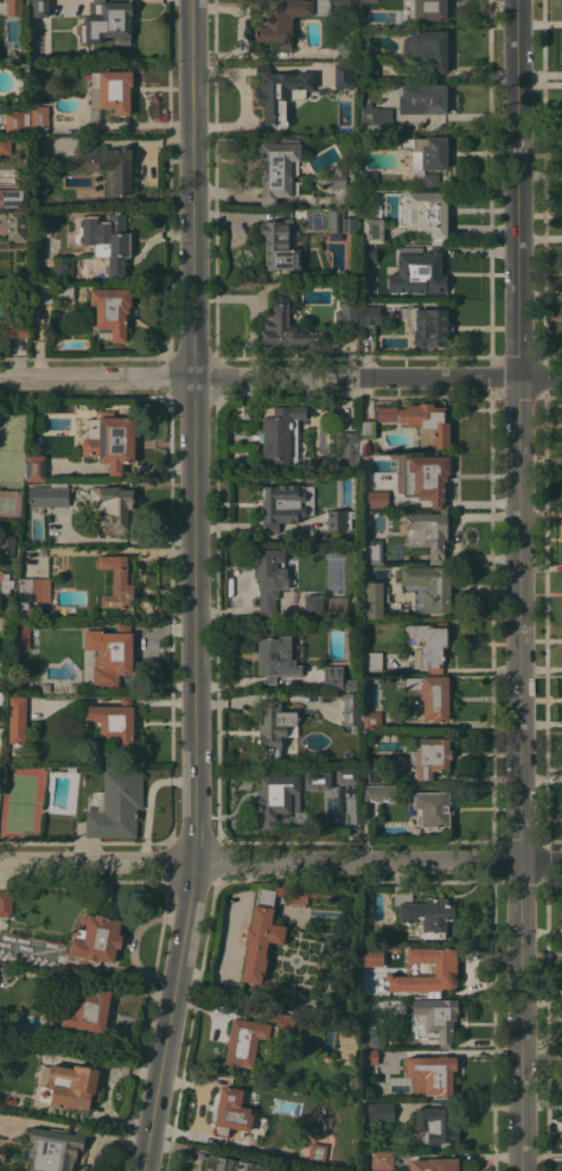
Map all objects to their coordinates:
building: (368, 0)
building: (344, 5)
building: (13, 7)
building: (39, 8)
building: (430, 9)
building: (287, 19)
building: (108, 21)
building: (428, 49)
building: (369, 64)
building: (343, 75)
building: (111, 90)
building: (280, 91)
building: (423, 98)
road: (242, 101)
building: (94, 114)
building: (375, 119)
building: (39, 120)
building: (15, 122)
building: (5, 145)
building: (38, 149)
building: (424, 152)
building: (109, 166)
building: (276, 167)
building: (337, 177)
building: (366, 180)
building: (430, 182)
building: (11, 197)
building: (427, 212)
building: (334, 223)
building: (17, 224)
building: (370, 224)
building: (107, 240)
building: (279, 247)
building: (372, 254)
building: (63, 266)
building: (427, 271)
building: (64, 292)
building: (43, 293)
building: (110, 312)
building: (369, 314)
building: (346, 317)
building: (285, 326)
building: (428, 326)
building: (15, 327)
road: (280, 377)
building: (419, 421)
building: (364, 434)
building: (280, 435)
building: (109, 440)
building: (347, 451)
building: (34, 467)
road: (157, 467)
road: (78, 469)
road: (115, 469)
building: (429, 476)
building: (50, 495)
building: (375, 498)
building: (281, 505)
building: (111, 507)
building: (338, 520)
building: (427, 532)
building: (6, 548)
building: (371, 549)
building: (270, 578)
building: (5, 585)
building: (119, 585)
road: (519, 585)
road: (192, 586)
building: (428, 586)
building: (31, 593)
building: (372, 600)
building: (337, 603)
building: (313, 605)
building: (20, 637)
building: (428, 644)
building: (109, 654)
building: (275, 654)
building: (372, 661)
building: (337, 679)
building: (0, 680)
building: (432, 694)
building: (1, 696)
building: (351, 708)
building: (17, 719)
building: (370, 719)
building: (114, 721)
building: (273, 728)
building: (432, 757)
building: (71, 769)
building: (346, 775)
building: (371, 776)
building: (314, 779)
building: (378, 791)
building: (276, 797)
park: (20, 802)
building: (115, 804)
building: (432, 808)
road: (280, 863)
building: (5, 902)
building: (422, 914)
building: (264, 934)
building: (97, 938)
building: (372, 956)
building: (445, 969)
building: (88, 1011)
building: (438, 1017)
building: (253, 1035)
building: (375, 1037)
building: (37, 1046)
building: (370, 1056)
building: (439, 1073)
building: (75, 1083)
building: (231, 1110)
building: (378, 1110)
building: (435, 1125)
building: (53, 1148)
building: (317, 1153)
building: (382, 1160)
building: (232, 1164)
building: (433, 1164)

